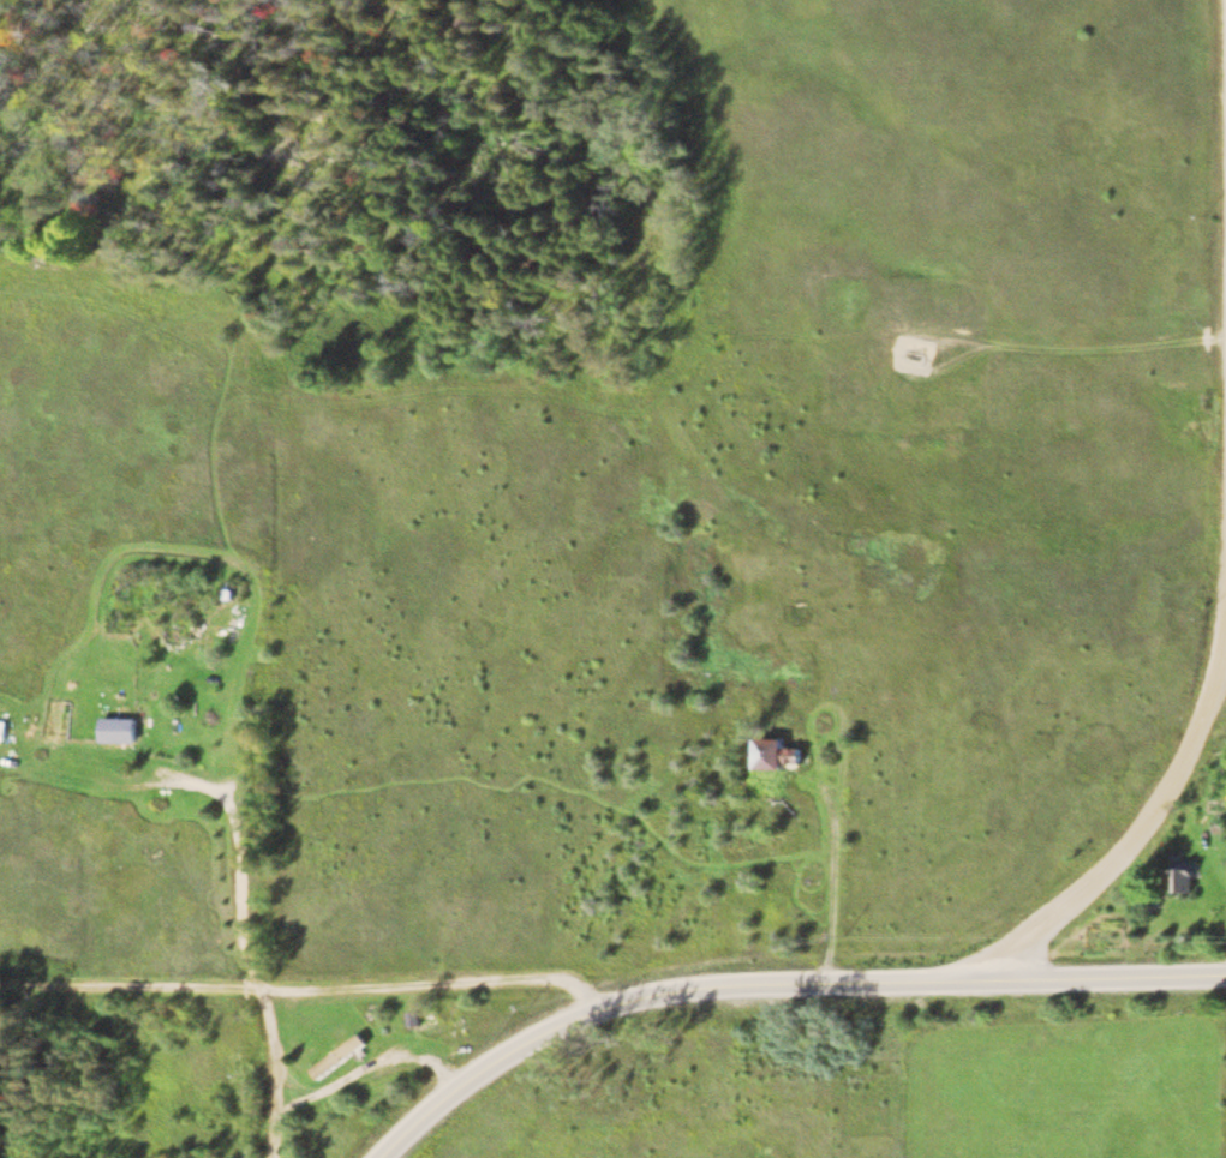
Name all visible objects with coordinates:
petroleum well: (916, 353)
building: (197, 683)
building: (5, 731)
building: (120, 731)
building: (775, 755)
road: (1120, 860)
building: (1184, 875)
road: (927, 983)
road: (130, 986)
road: (447, 986)
building: (415, 1020)
building: (340, 1057)
road: (495, 1062)
road: (275, 1073)

